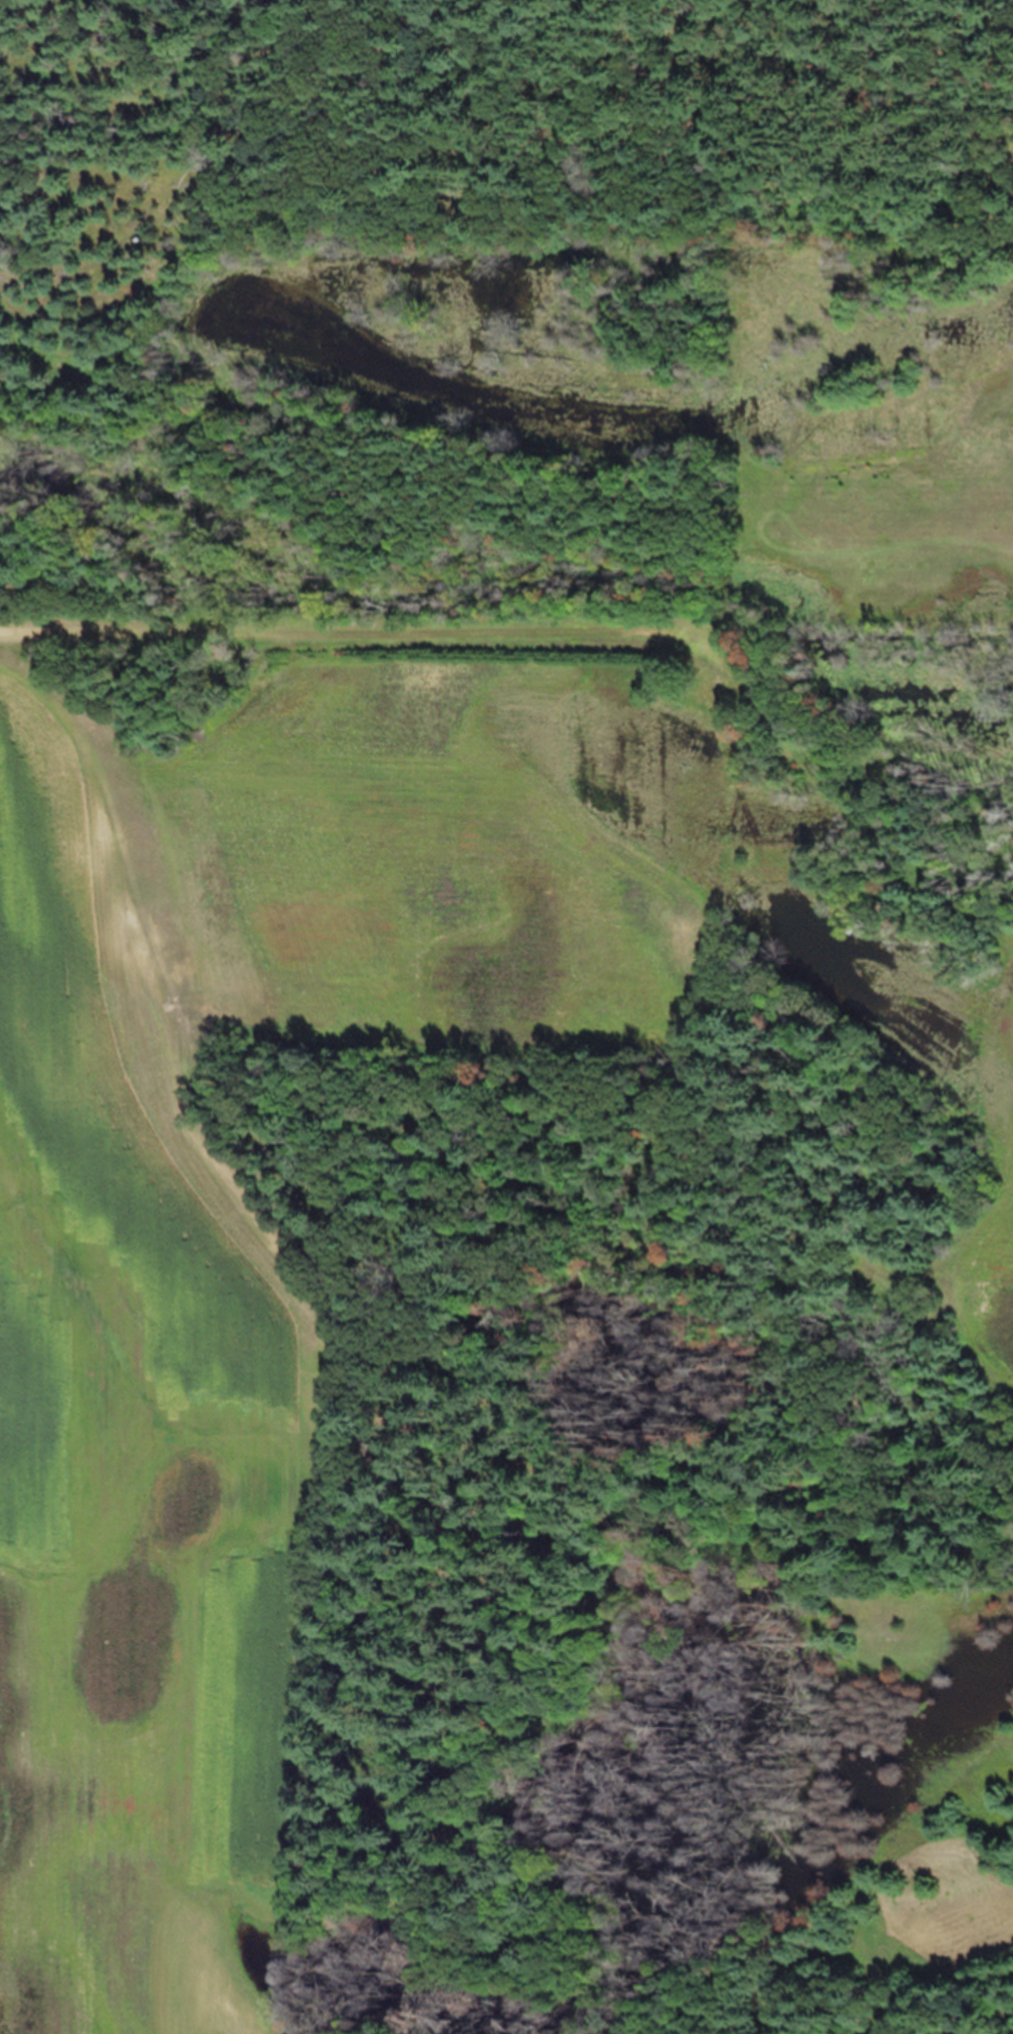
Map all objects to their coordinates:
road: (317, 629)

